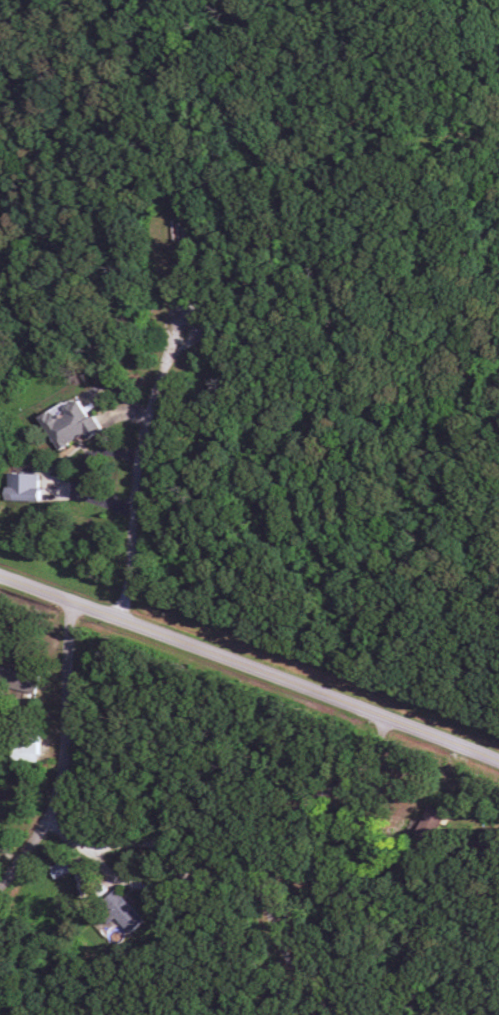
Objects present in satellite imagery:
building: (68, 419)
road: (137, 465)
road: (251, 665)
building: (16, 675)
road: (66, 757)
road: (173, 853)
road: (276, 853)
building: (58, 866)
building: (119, 908)

